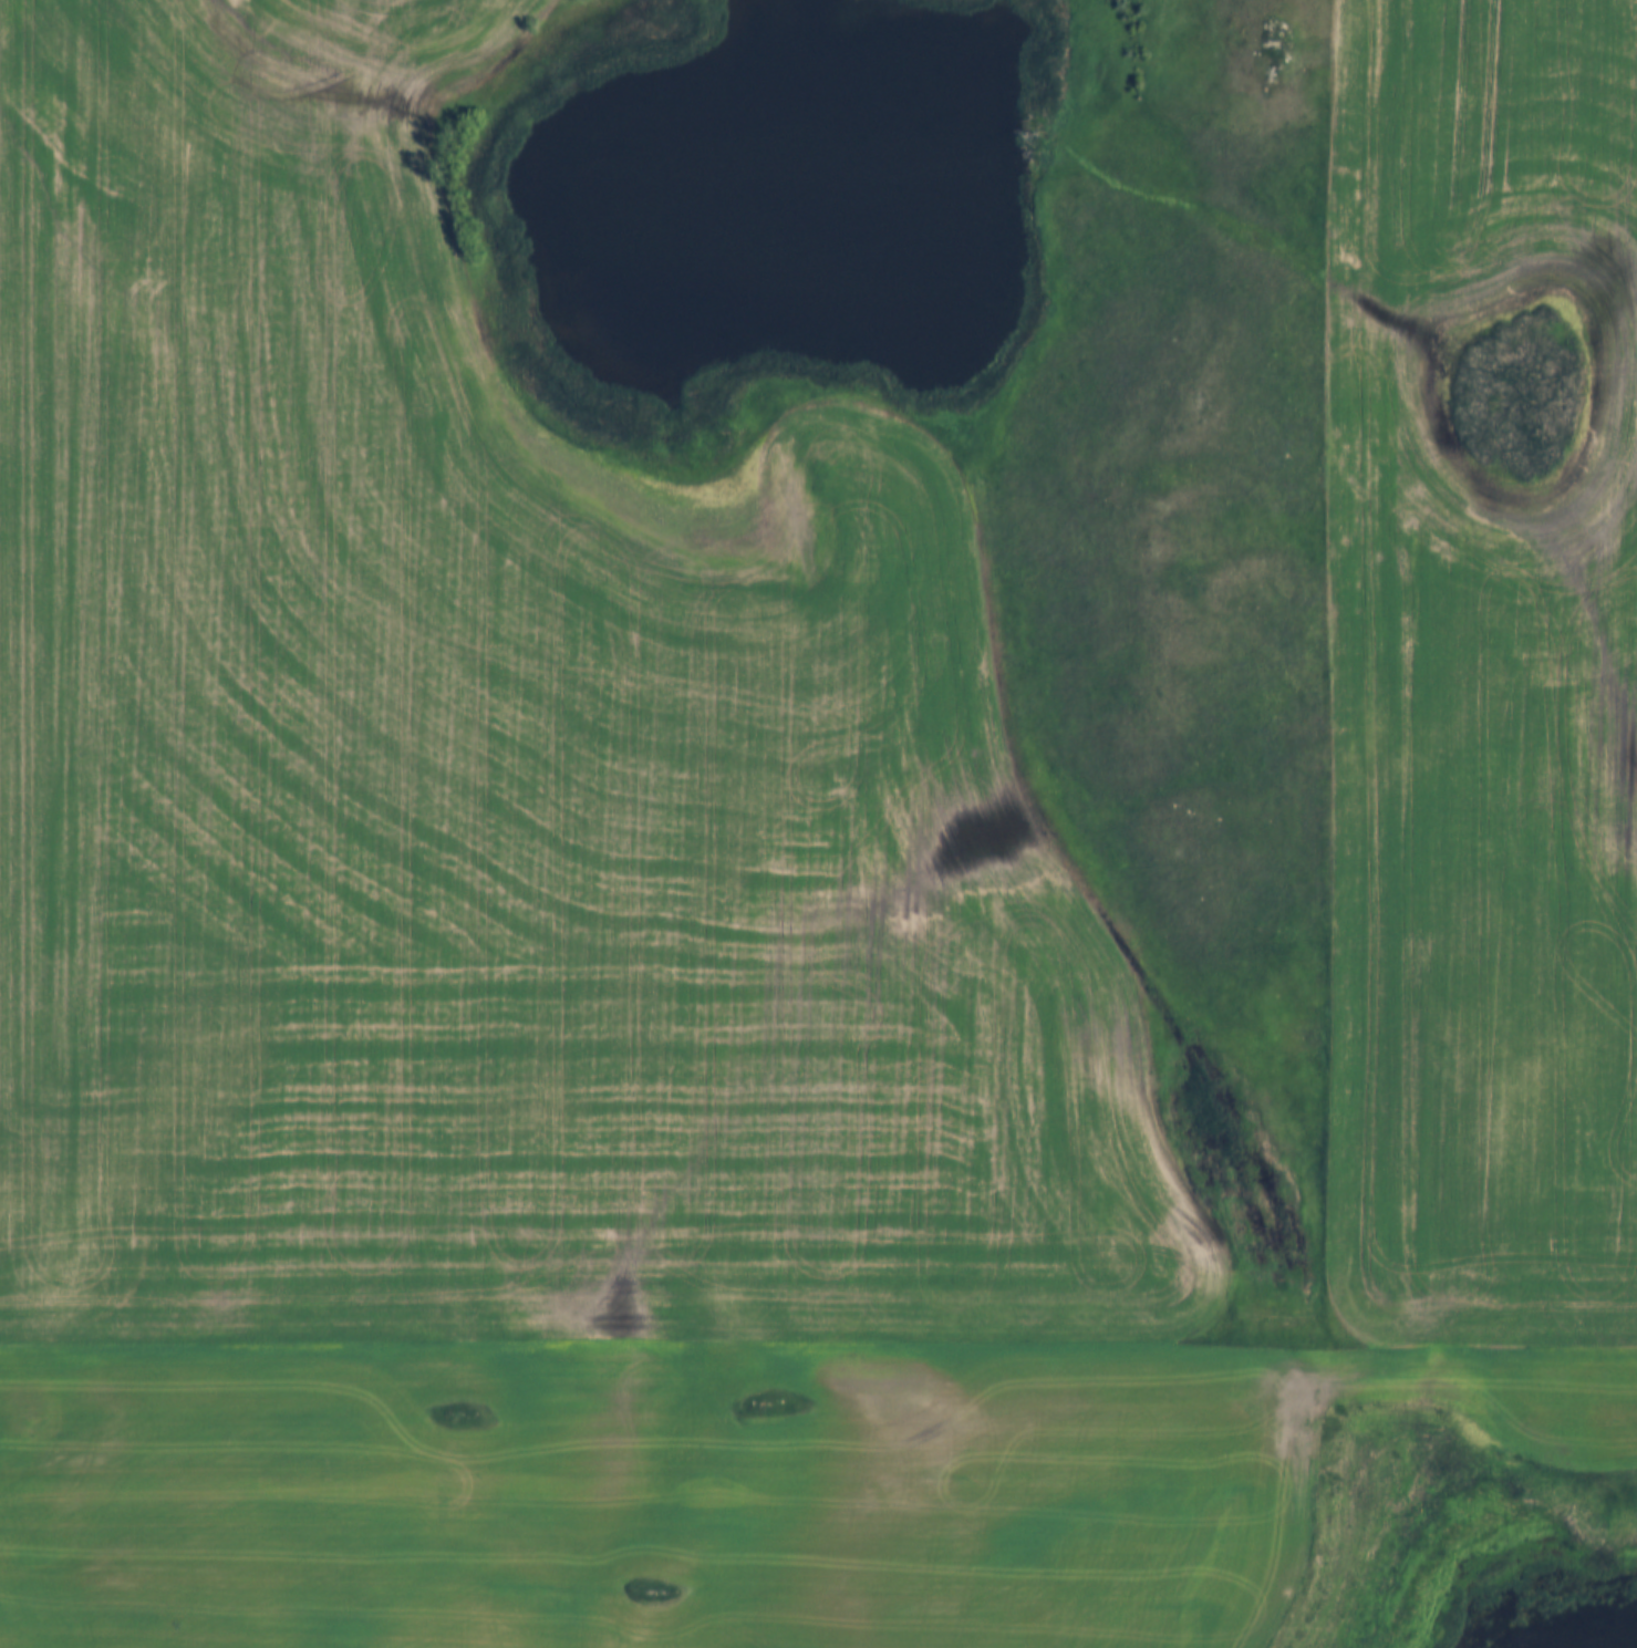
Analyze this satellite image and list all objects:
road: (818, 1344)

